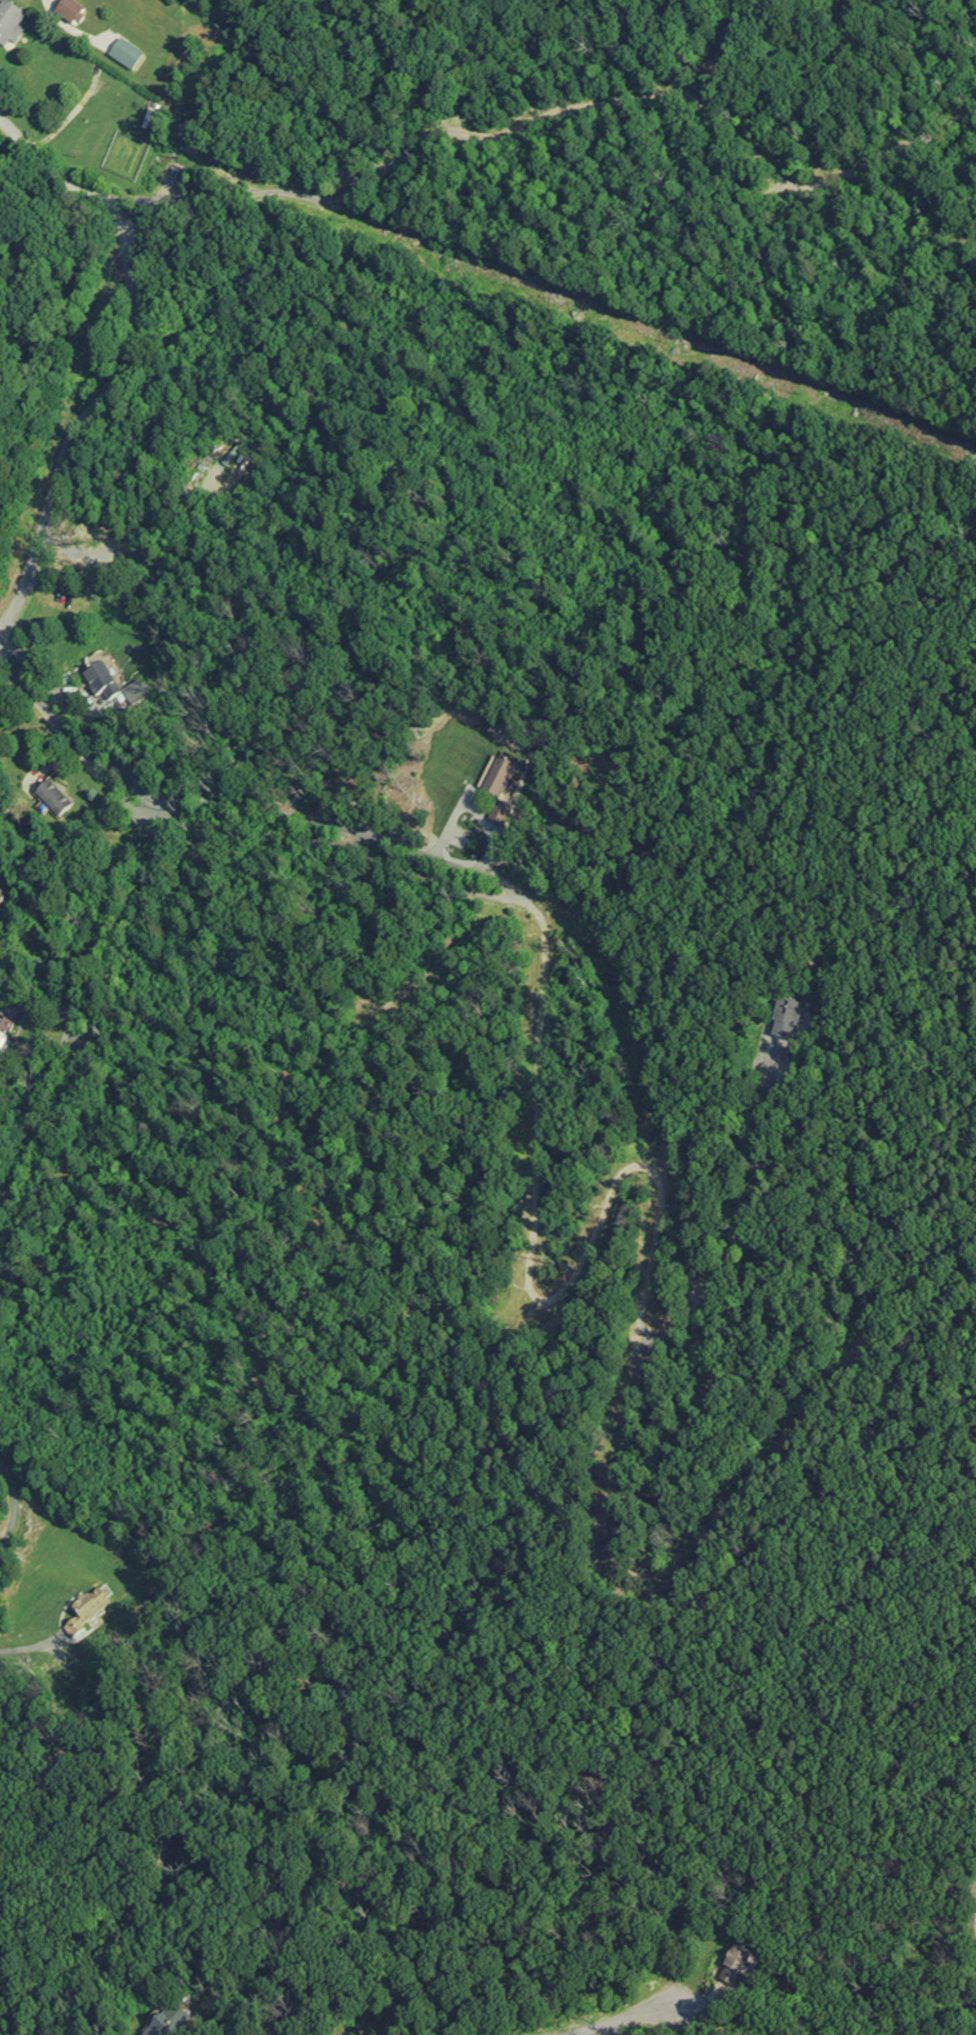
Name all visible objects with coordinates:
road: (546, 117)
road: (133, 357)
road: (109, 927)
road: (50, 964)
road: (524, 1231)
road: (16, 1512)
building: (735, 1965)
road: (630, 2013)
road: (613, 2027)

